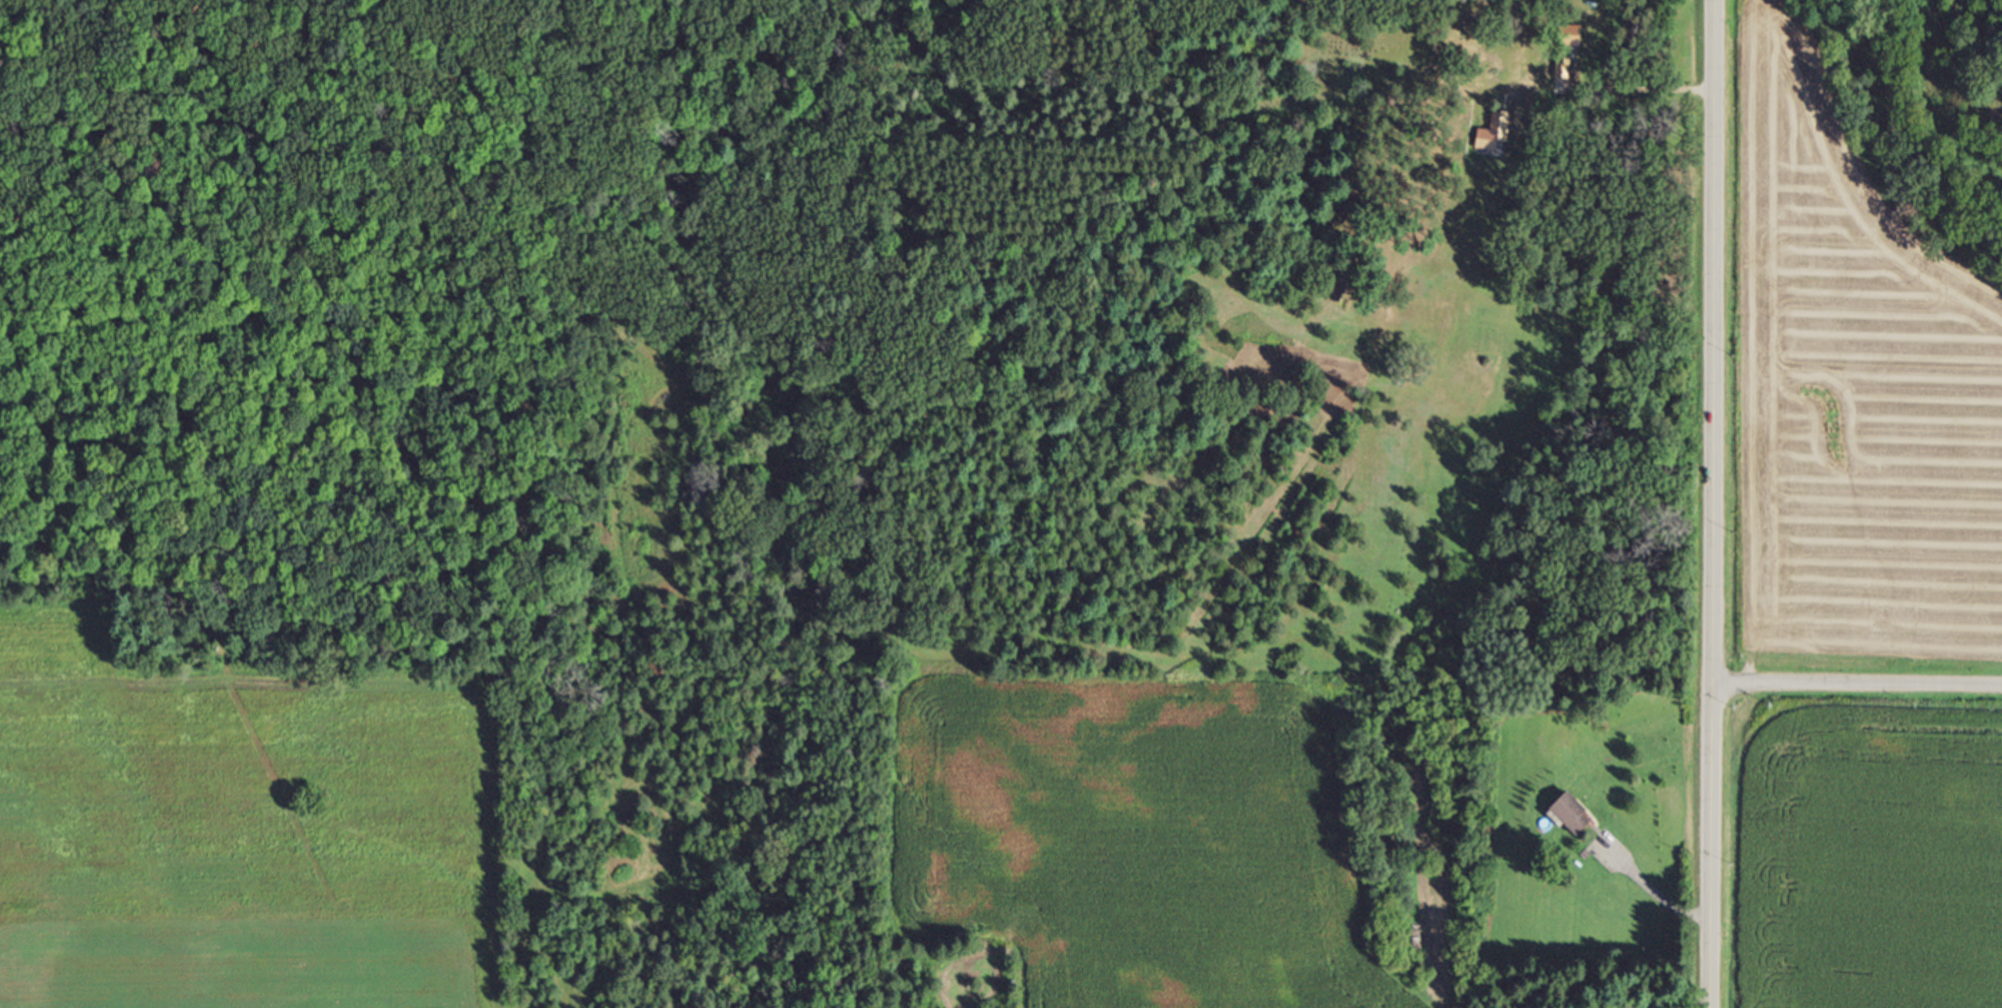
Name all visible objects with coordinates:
building: (1564, 73)
building: (1499, 138)
road: (1714, 504)
road: (1858, 684)
building: (1578, 819)
road: (1654, 893)

